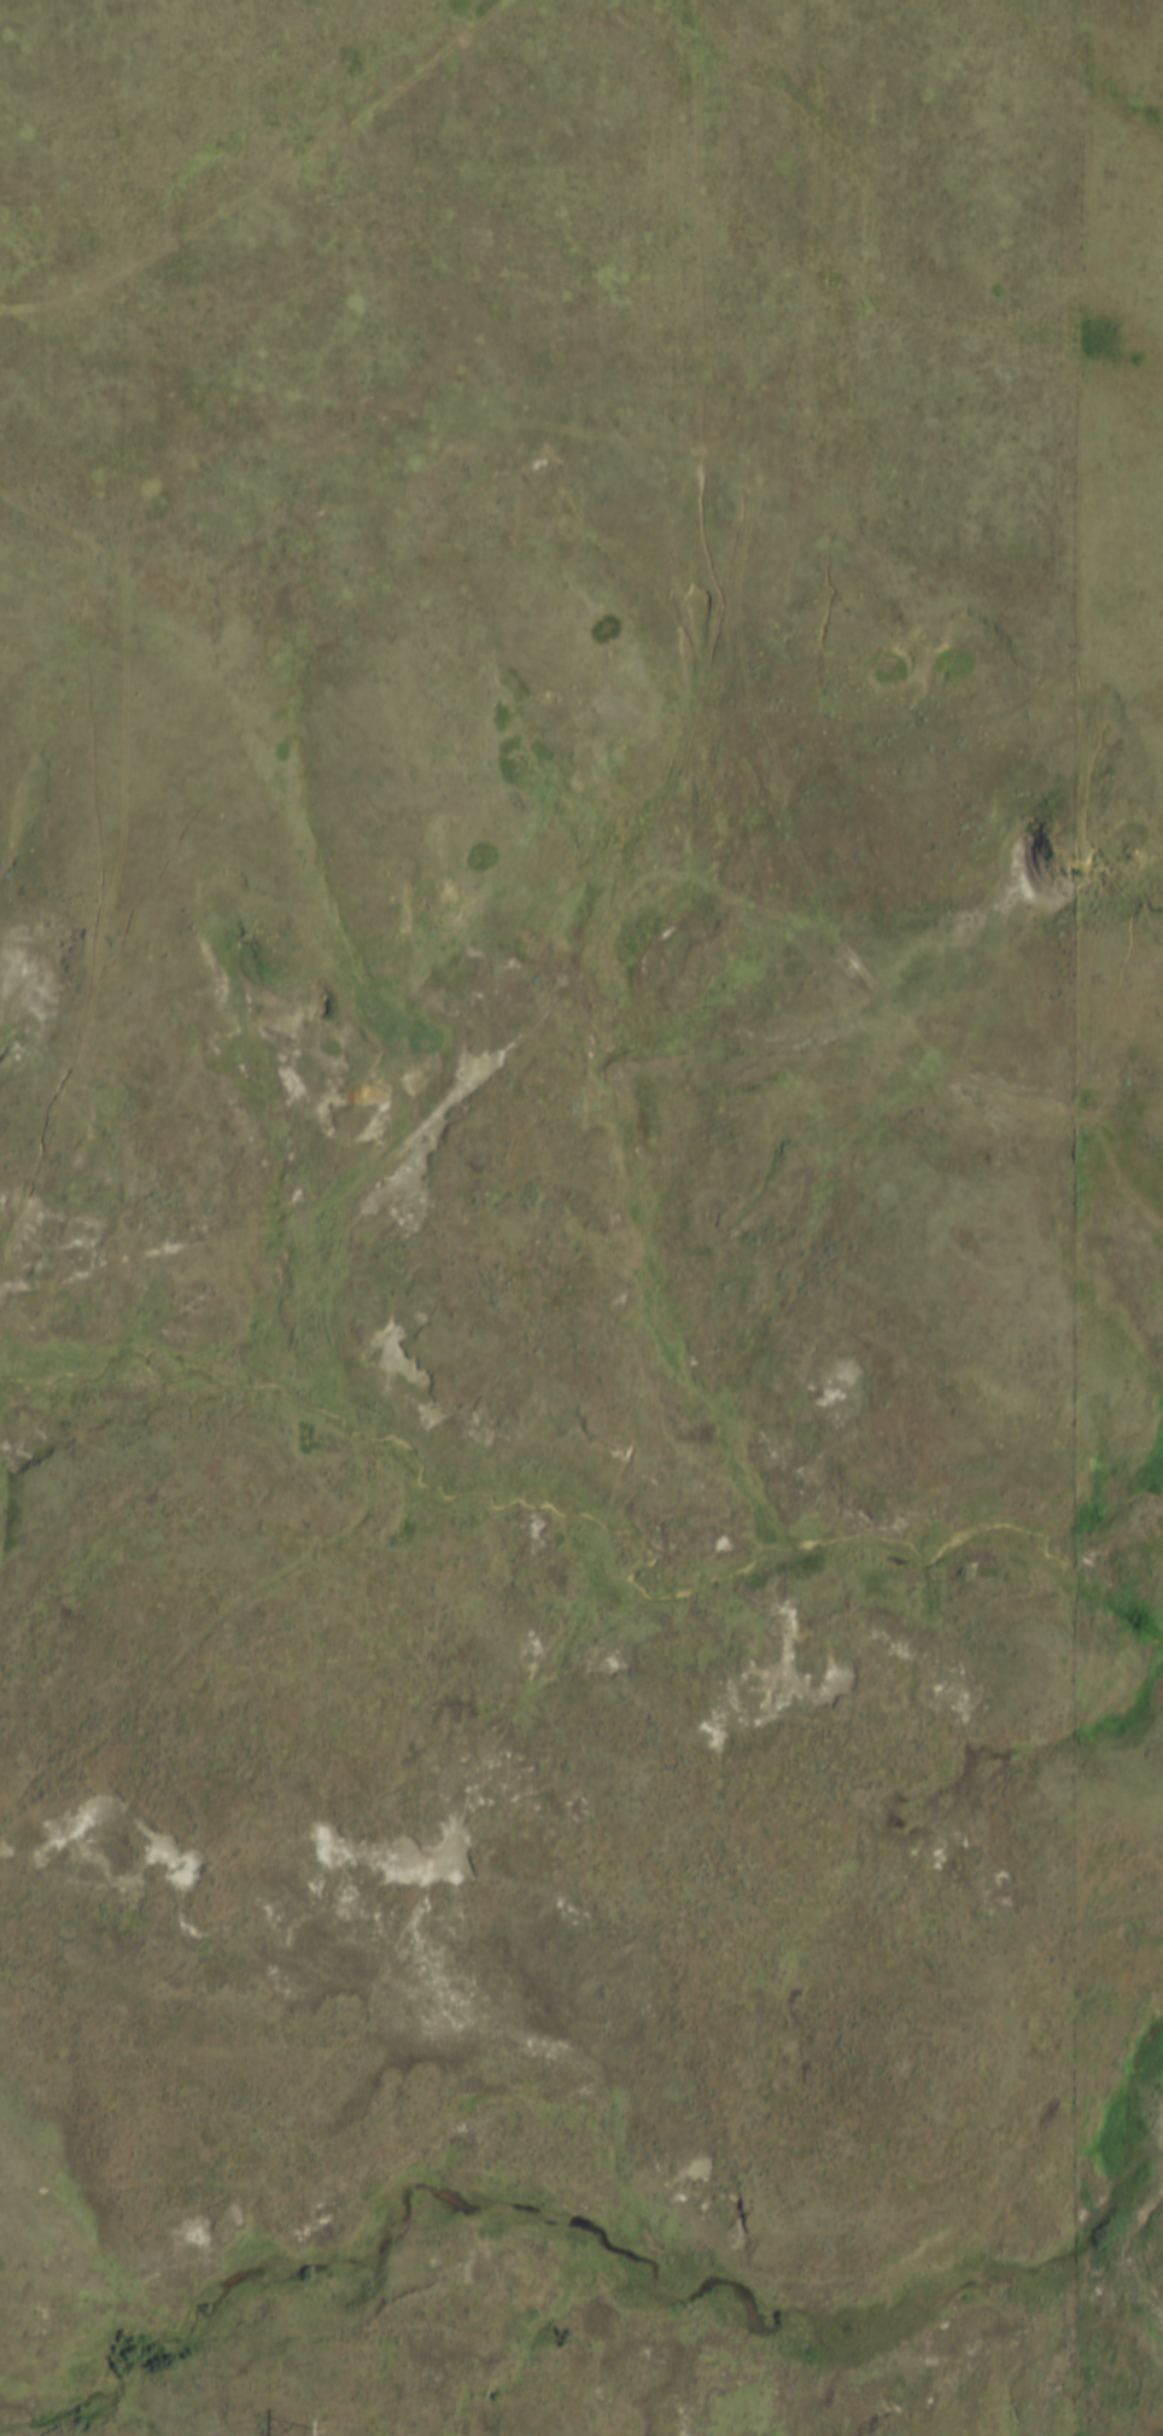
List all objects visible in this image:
road: (270, 150)
road: (677, 605)

